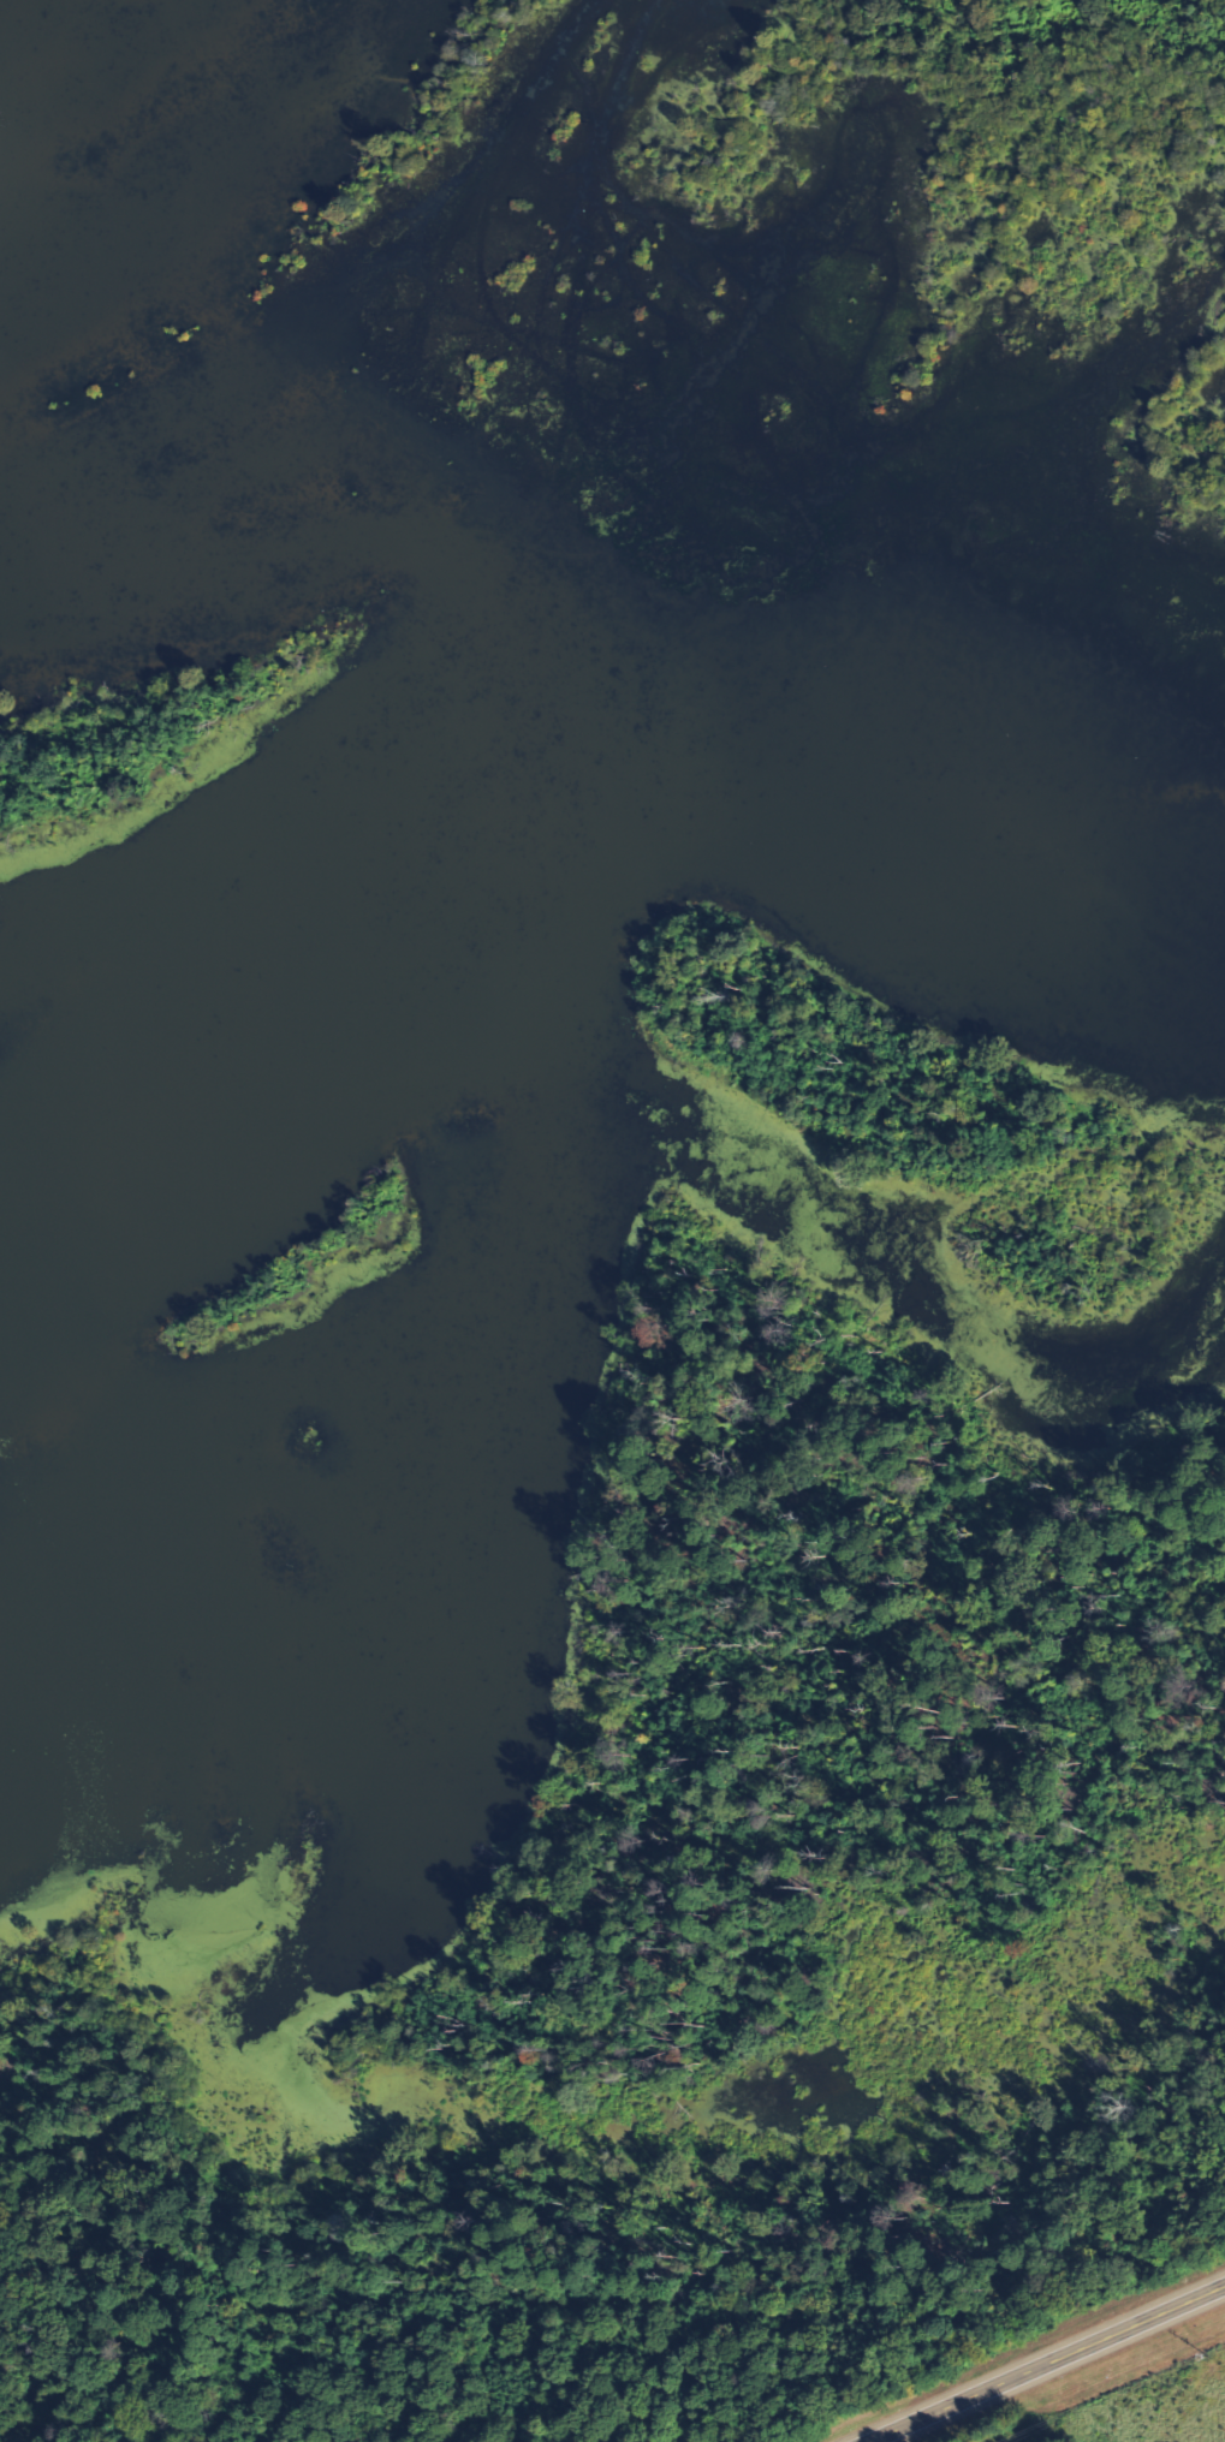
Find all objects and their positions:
road: (1048, 2364)

